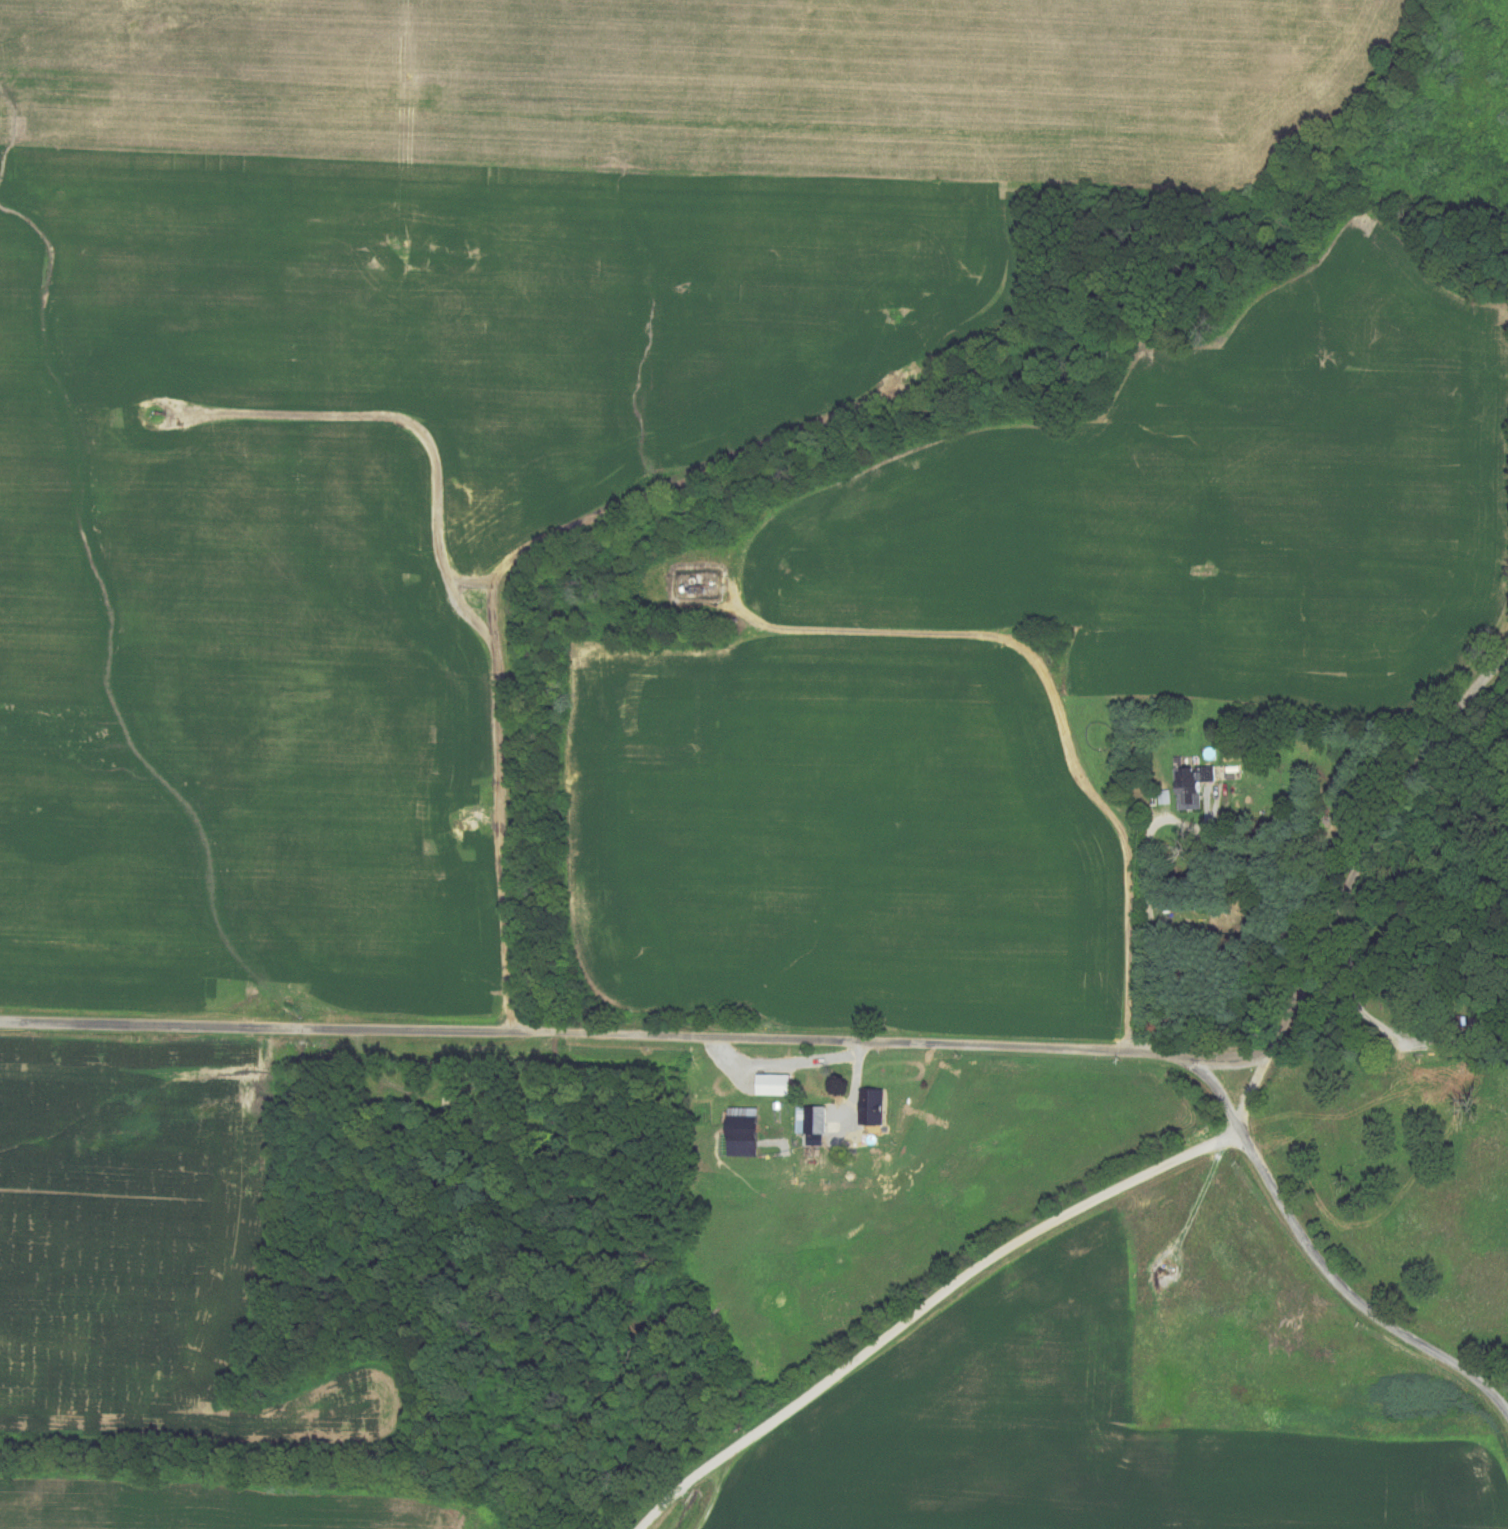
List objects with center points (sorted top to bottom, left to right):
petroleum well: (897, 385)
petroleum well: (156, 411)
road: (695, 473)
road: (473, 580)
road: (461, 605)
road: (1055, 692)
building: (1181, 806)
petroleum well: (475, 819)
road: (1154, 822)
road: (1371, 844)
road: (637, 1034)
building: (767, 1084)
road: (1225, 1087)
road: (1254, 1097)
building: (746, 1132)
road: (1353, 1295)
road: (924, 1306)
road: (715, 1499)

